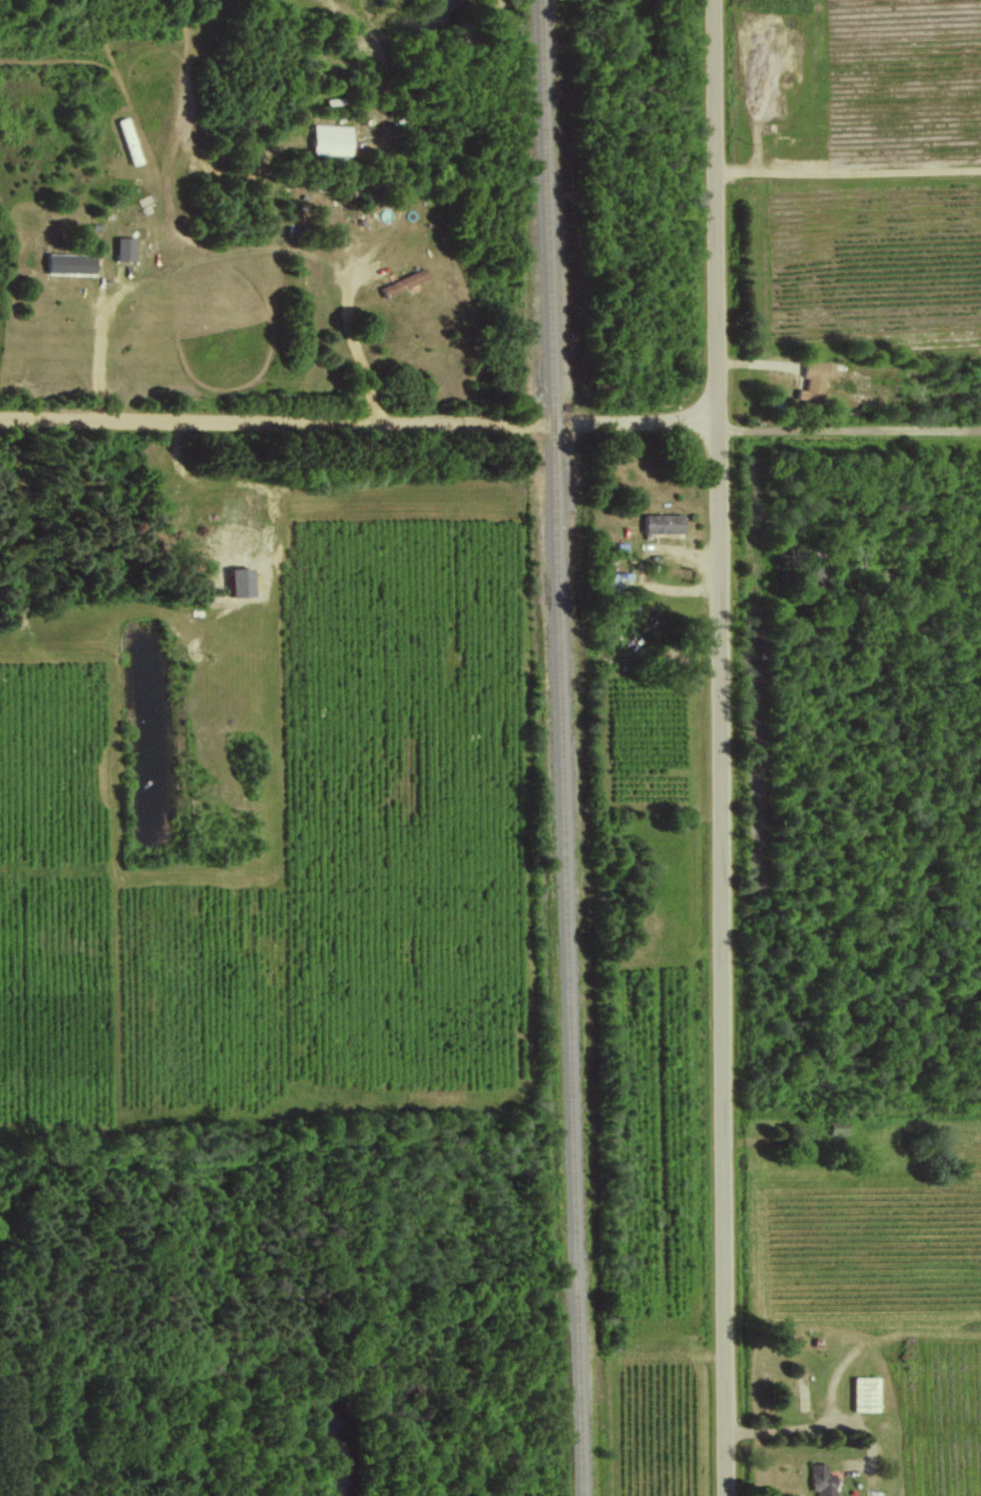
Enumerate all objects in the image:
building: (331, 139)
building: (126, 248)
road: (358, 261)
building: (71, 263)
building: (403, 281)
road: (103, 362)
building: (814, 380)
road: (358, 424)
road: (848, 430)
building: (662, 523)
building: (243, 581)
railway: (561, 747)
road: (718, 747)
building: (867, 1394)
building: (822, 1480)

